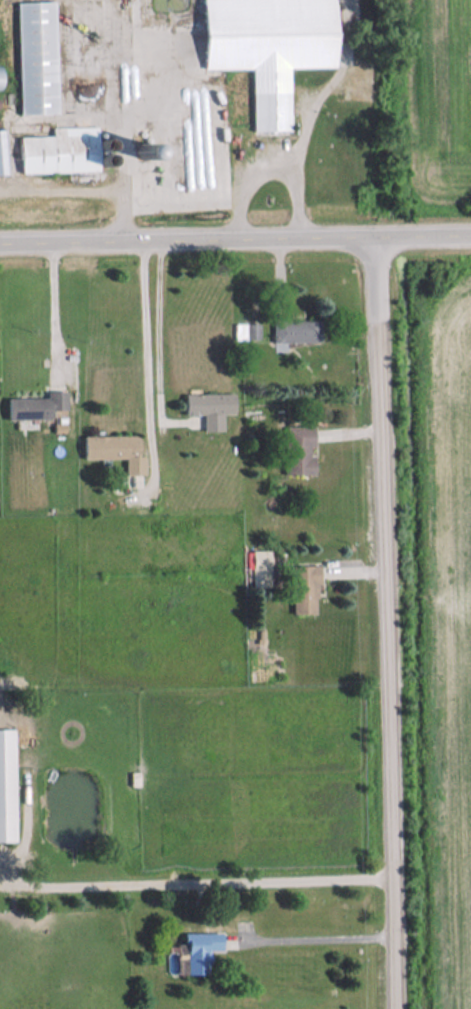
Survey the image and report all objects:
building: (272, 47)
building: (38, 58)
building: (1, 78)
building: (63, 151)
building: (3, 152)
road: (274, 168)
road: (84, 190)
road: (235, 240)
road: (54, 306)
building: (298, 330)
building: (247, 331)
road: (157, 346)
road: (147, 372)
building: (40, 406)
building: (211, 408)
building: (117, 450)
building: (301, 450)
building: (306, 589)
road: (392, 623)
building: (8, 785)
road: (198, 881)
road: (321, 933)
building: (200, 951)

